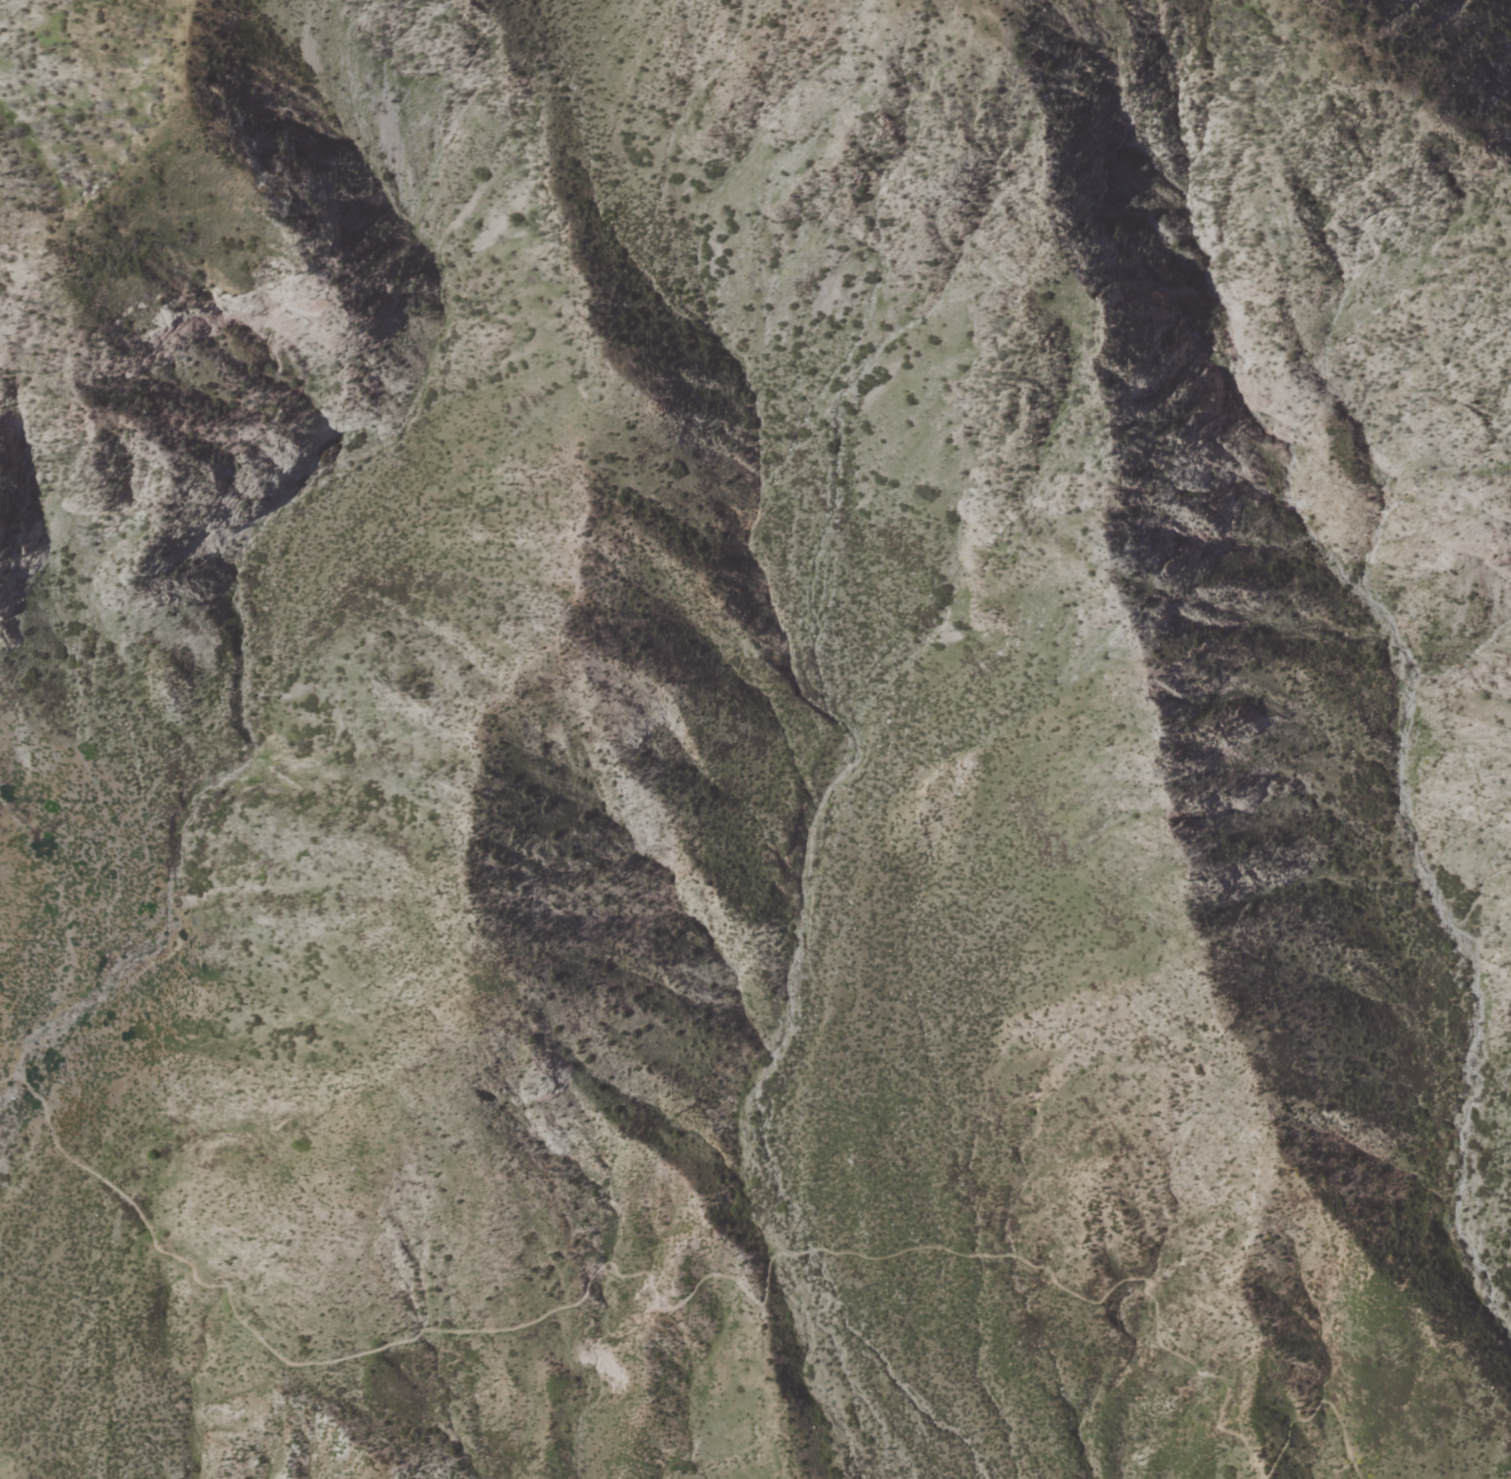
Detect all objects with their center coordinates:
road: (730, 1279)

